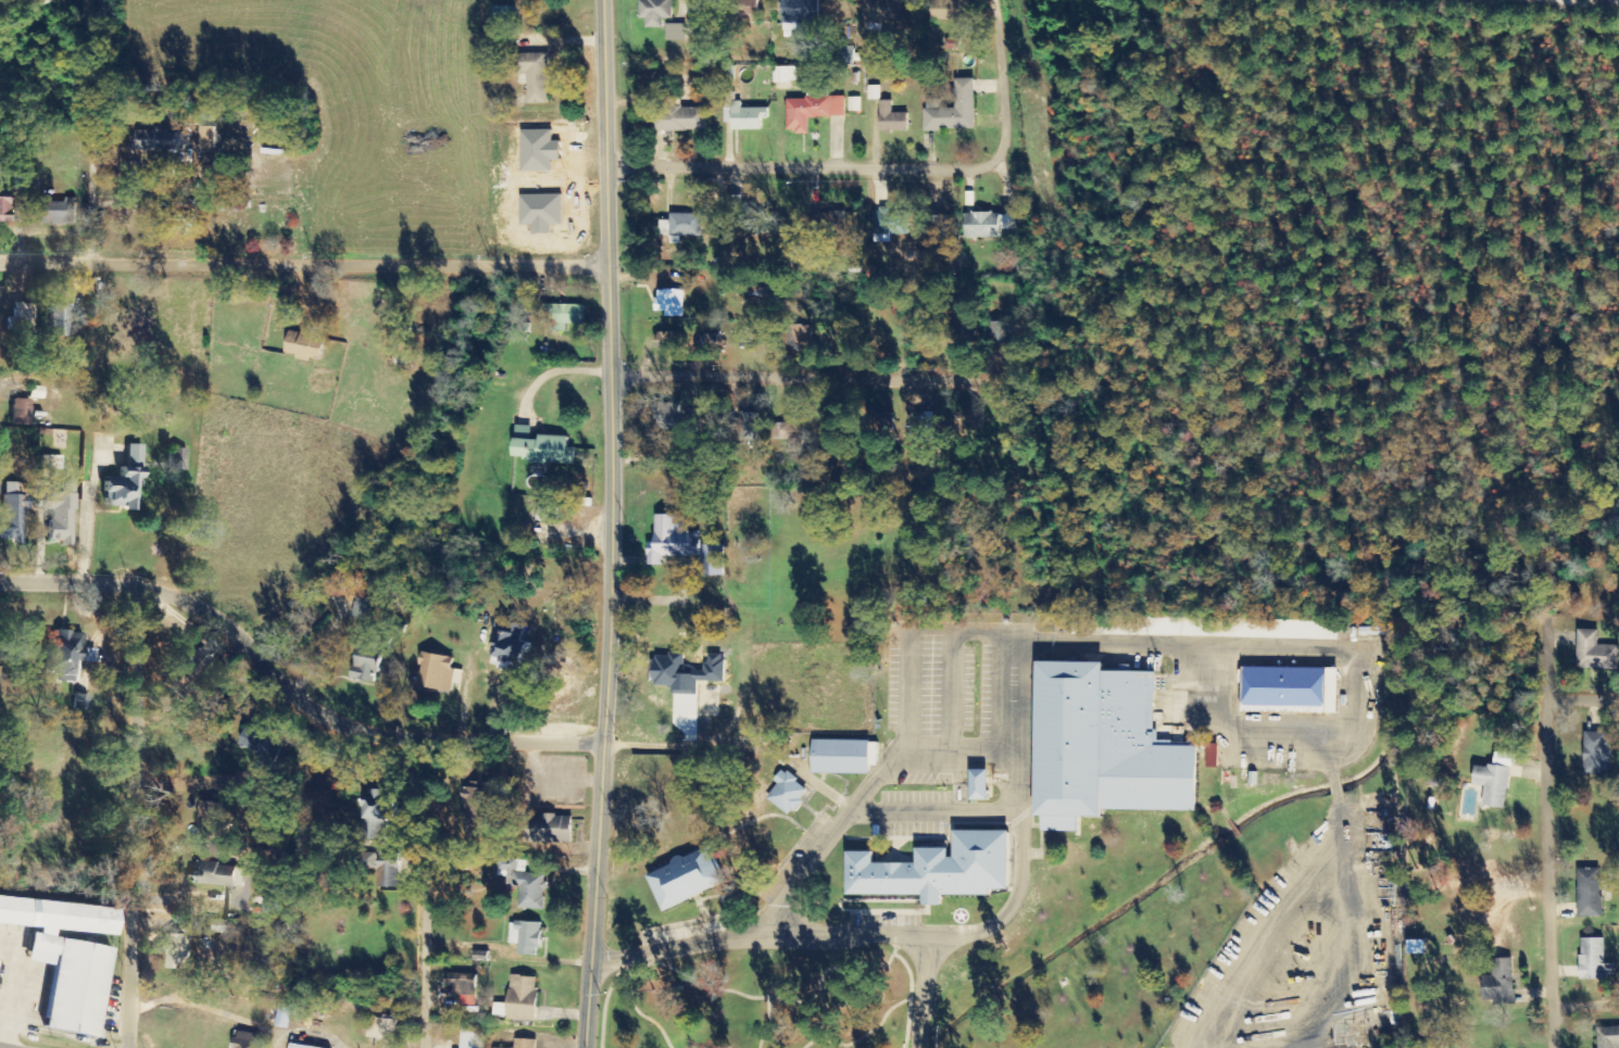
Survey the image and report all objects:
building: (47, 1)
building: (750, 7)
building: (878, 10)
building: (950, 10)
building: (655, 12)
building: (799, 13)
building: (676, 31)
building: (786, 74)
building: (534, 77)
road: (1013, 89)
building: (874, 92)
building: (953, 110)
building: (812, 111)
building: (742, 114)
building: (891, 118)
building: (682, 119)
road: (97, 130)
building: (160, 141)
road: (786, 159)
building: (229, 206)
building: (2, 207)
building: (58, 212)
building: (884, 222)
building: (829, 223)
building: (1007, 223)
building: (682, 226)
building: (936, 226)
building: (982, 226)
road: (305, 261)
building: (669, 303)
building: (562, 316)
building: (58, 321)
building: (959, 328)
building: (1004, 332)
building: (667, 337)
building: (801, 337)
building: (304, 345)
road: (833, 375)
building: (20, 413)
building: (674, 417)
building: (746, 427)
building: (794, 433)
building: (540, 447)
building: (176, 459)
building: (124, 482)
building: (12, 512)
building: (58, 517)
road: (610, 523)
building: (673, 541)
road: (73, 583)
building: (362, 607)
building: (507, 641)
road: (1247, 647)
building: (1595, 653)
building: (62, 654)
building: (367, 661)
building: (437, 672)
building: (686, 672)
building: (1288, 690)
road: (1571, 699)
building: (79, 702)
road: (352, 729)
road: (907, 732)
building: (258, 742)
building: (1103, 746)
road: (965, 750)
building: (1596, 754)
building: (840, 756)
road: (1329, 758)
building: (1494, 780)
road: (1335, 788)
building: (786, 793)
road: (623, 795)
building: (477, 806)
road: (858, 810)
building: (206, 813)
road: (137, 816)
building: (549, 829)
building: (381, 833)
road: (1020, 867)
building: (937, 869)
building: (217, 874)
building: (685, 879)
building: (530, 891)
road: (1559, 893)
building: (1589, 893)
road: (428, 894)
building: (13, 911)
building: (73, 918)
building: (525, 937)
road: (760, 937)
road: (1353, 937)
building: (1416, 946)
road: (1264, 947)
building: (176, 951)
building: (1594, 959)
building: (1499, 982)
building: (72, 984)
building: (519, 999)
road: (1589, 1011)
building: (284, 1015)
building: (384, 1028)
building: (470, 1037)
building: (1608, 1037)
road: (919, 1038)
building: (247, 1039)
building: (525, 1044)
building: (300, 1046)

